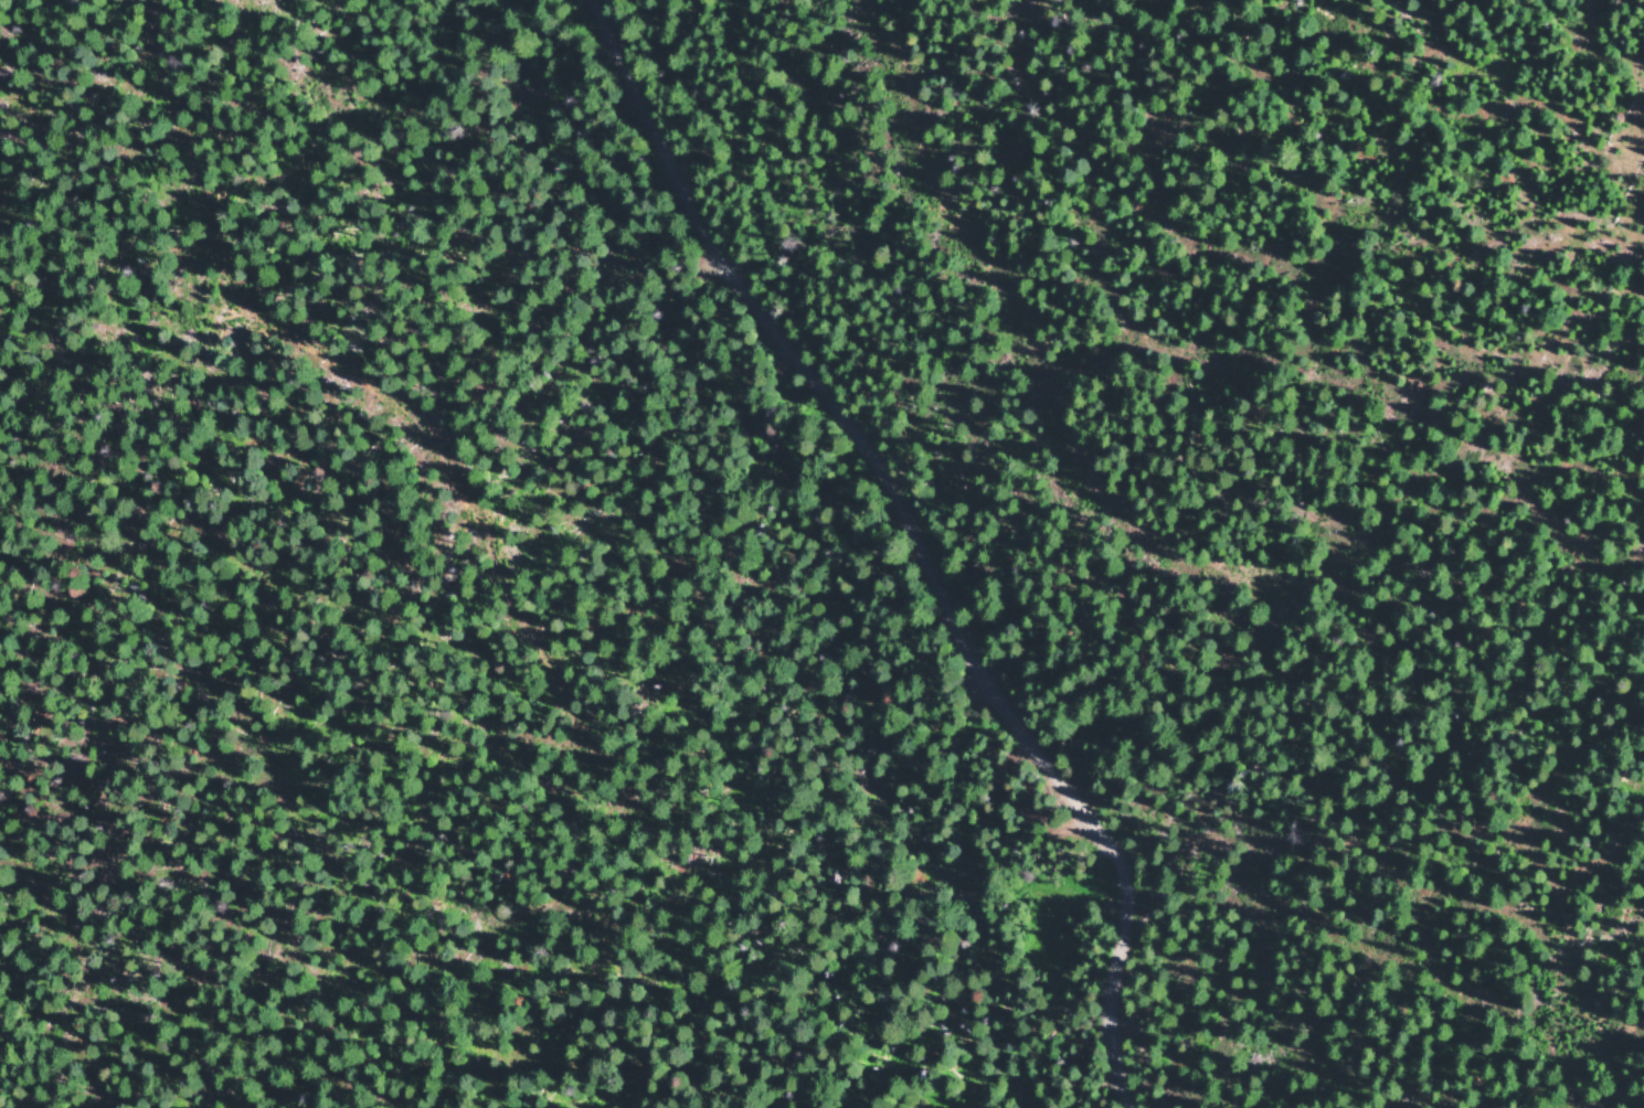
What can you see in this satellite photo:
road: (908, 537)

